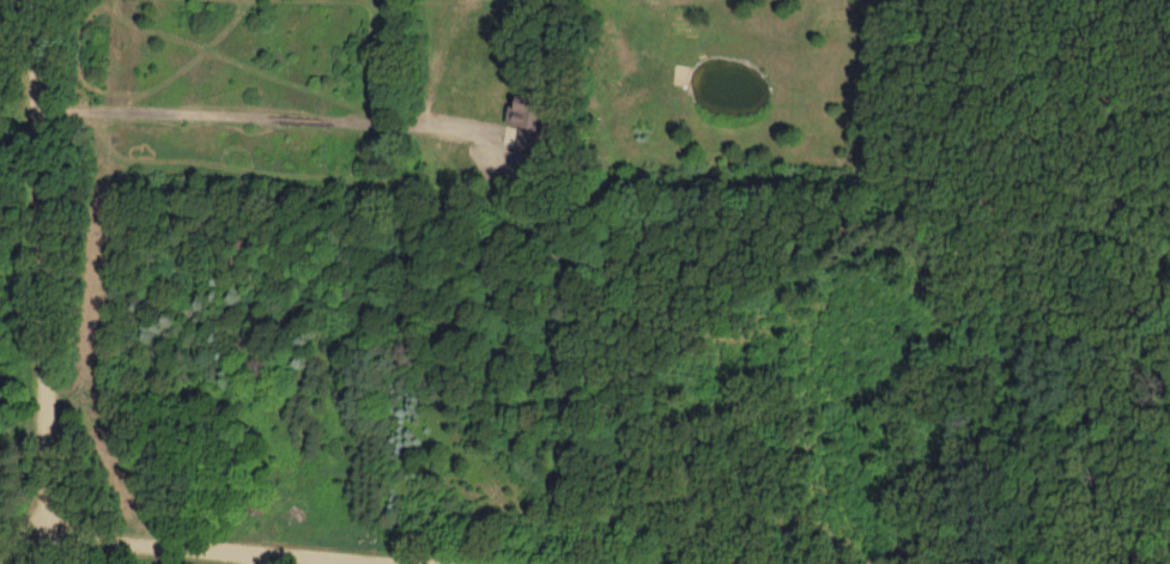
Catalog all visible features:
road: (266, 116)
building: (532, 121)
road: (38, 268)
road: (178, 550)

